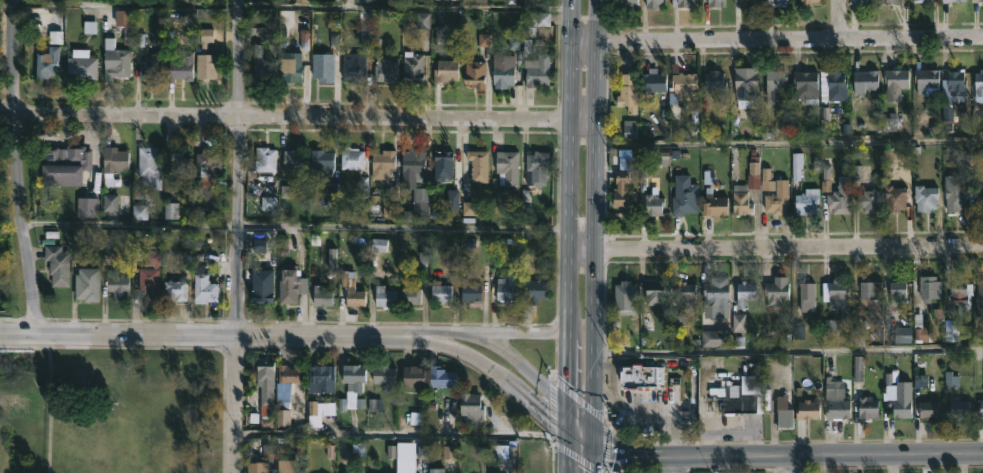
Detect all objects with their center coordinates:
building: (363, 0)
building: (425, 0)
building: (922, 0)
building: (975, 0)
building: (863, 1)
building: (892, 1)
building: (777, 2)
building: (812, 2)
building: (944, 2)
building: (683, 3)
building: (716, 3)
building: (749, 3)
building: (655, 4)
building: (626, 5)
road: (292, 8)
road: (841, 18)
building: (125, 24)
road: (775, 38)
building: (265, 57)
building: (50, 59)
building: (116, 59)
building: (83, 64)
building: (182, 65)
building: (207, 66)
building: (293, 66)
building: (326, 67)
building: (413, 67)
building: (353, 68)
building: (387, 69)
building: (446, 69)
building: (538, 69)
building: (150, 70)
building: (475, 72)
building: (503, 73)
building: (897, 78)
building: (715, 79)
building: (866, 80)
building: (929, 80)
building: (653, 81)
building: (748, 82)
building: (957, 82)
building: (774, 83)
building: (979, 83)
building: (686, 85)
building: (807, 85)
building: (837, 85)
building: (628, 91)
road: (298, 116)
road: (790, 146)
building: (352, 157)
building: (266, 158)
building: (115, 160)
building: (209, 160)
building: (295, 160)
building: (323, 160)
building: (179, 162)
building: (65, 163)
building: (383, 163)
building: (443, 164)
building: (478, 164)
road: (17, 165)
building: (149, 167)
building: (413, 167)
building: (538, 167)
building: (504, 174)
building: (748, 186)
building: (783, 191)
building: (956, 191)
building: (624, 192)
building: (841, 195)
building: (898, 197)
building: (926, 197)
building: (686, 198)
building: (979, 198)
building: (808, 200)
building: (870, 200)
building: (654, 202)
building: (715, 203)
building: (87, 205)
road: (293, 229)
road: (240, 236)
road: (567, 236)
road: (595, 236)
road: (775, 248)
building: (58, 264)
building: (152, 274)
building: (89, 283)
building: (263, 284)
building: (118, 285)
building: (291, 286)
building: (930, 286)
building: (508, 287)
building: (205, 288)
building: (536, 288)
building: (176, 289)
building: (352, 289)
building: (960, 289)
building: (471, 290)
building: (777, 290)
building: (441, 291)
building: (717, 292)
building: (898, 292)
building: (655, 293)
building: (687, 293)
building: (746, 293)
building: (838, 293)
building: (322, 295)
building: (808, 295)
building: (385, 296)
building: (414, 297)
building: (626, 297)
building: (980, 298)
building: (874, 300)
building: (922, 329)
road: (198, 331)
road: (525, 332)
building: (715, 336)
road: (172, 345)
road: (788, 353)
road: (519, 363)
building: (290, 374)
building: (414, 375)
building: (355, 376)
building: (385, 376)
building: (442, 376)
building: (321, 377)
building: (640, 377)
road: (552, 378)
building: (889, 380)
building: (266, 386)
road: (509, 387)
building: (750, 397)
building: (735, 398)
building: (838, 399)
building: (903, 399)
building: (472, 405)
traffic signals: (565, 407)
building: (869, 407)
building: (980, 407)
road: (49, 408)
building: (958, 408)
building: (809, 409)
park: (110, 411)
building: (785, 411)
building: (930, 411)
traffic signals: (564, 430)
road: (377, 433)
traffic signals: (593, 434)
traffic signals: (593, 453)
road: (797, 455)
road: (796, 464)
road: (675, 465)
building: (255, 470)
building: (434, 470)
building: (496, 472)

